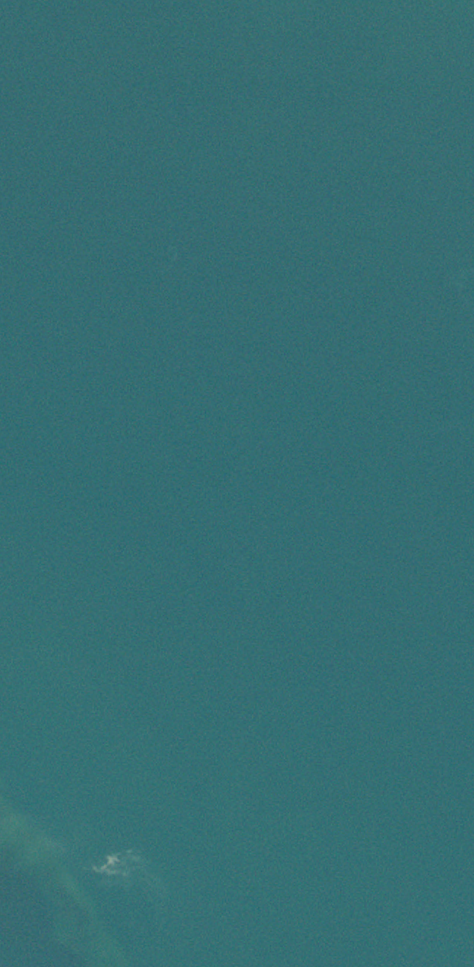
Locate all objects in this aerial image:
river: (237, 126)

